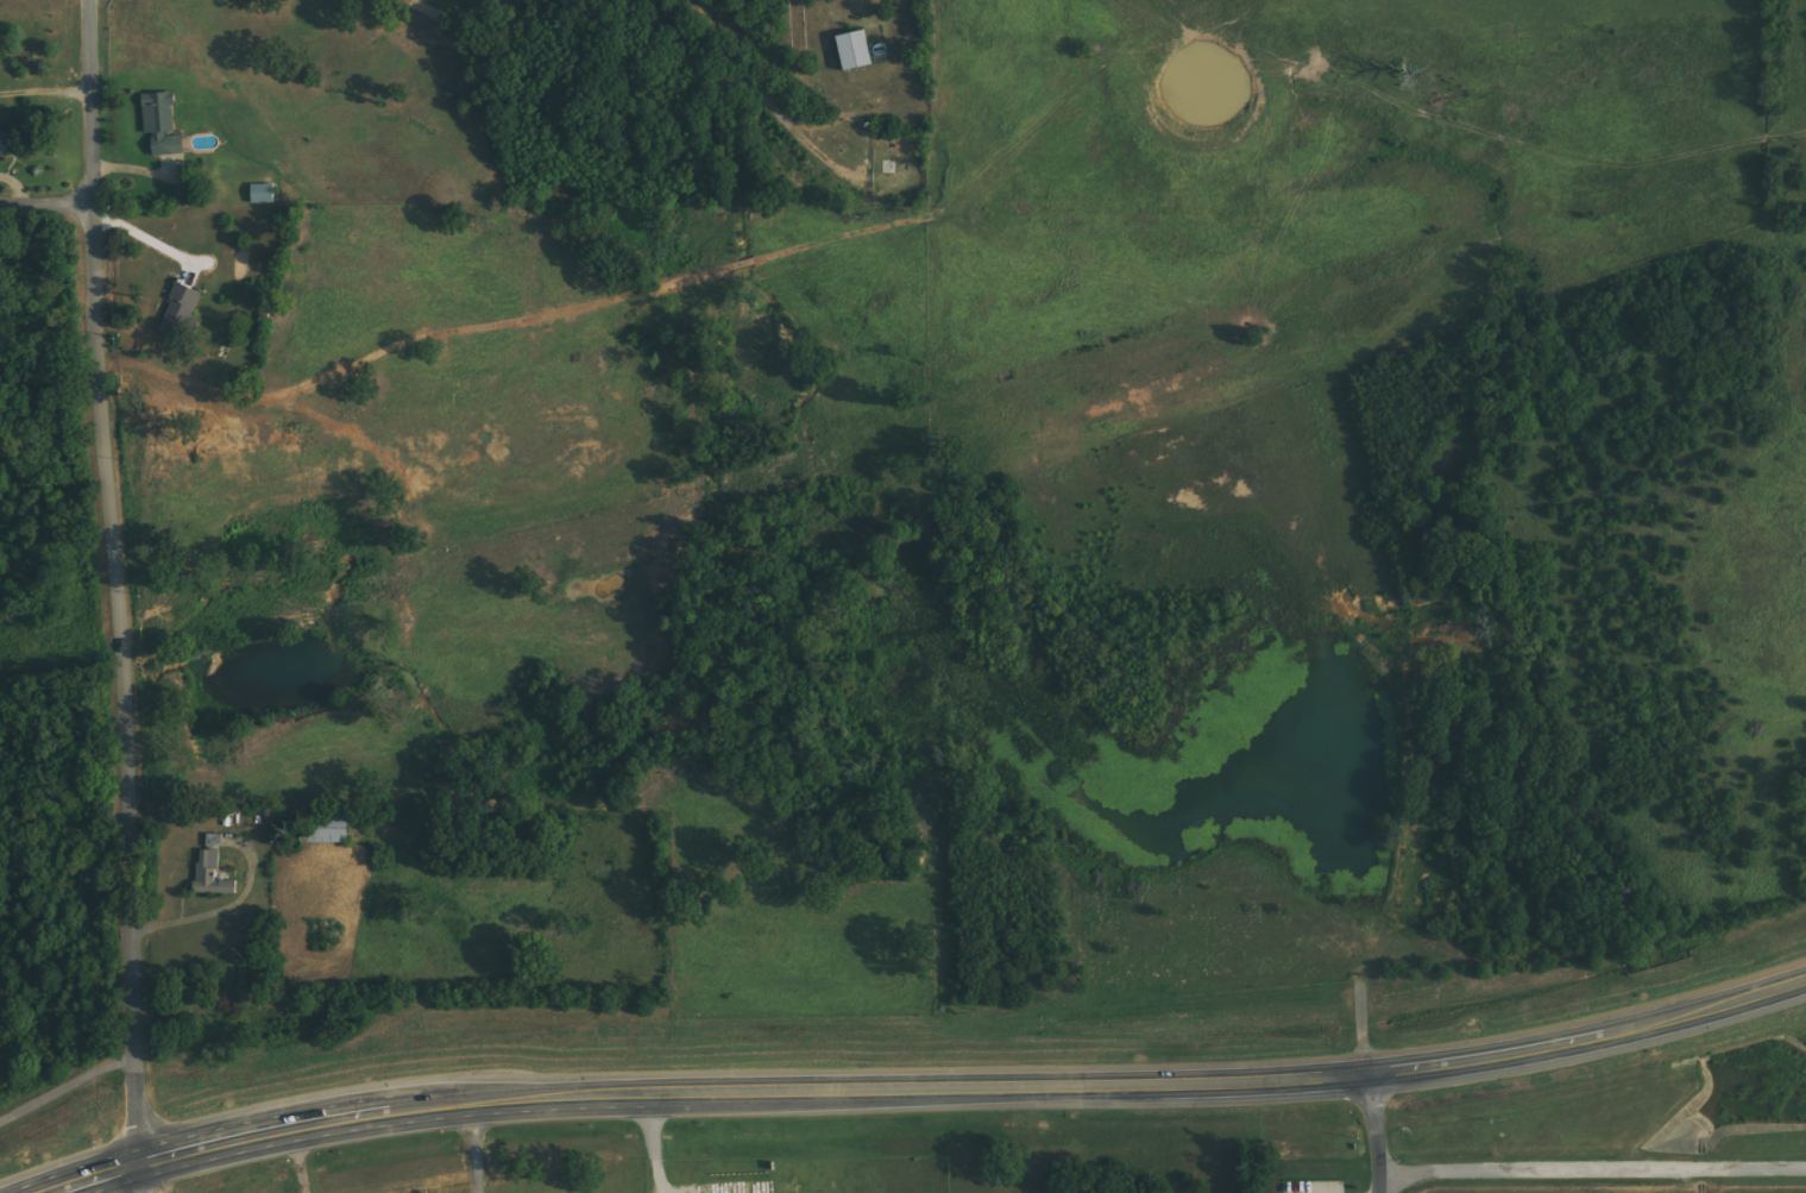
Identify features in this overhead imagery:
building: (857, 50)
road: (89, 103)
building: (164, 123)
building: (4, 142)
building: (264, 193)
road: (45, 206)
building: (181, 310)
road: (124, 698)
building: (329, 828)
building: (215, 840)
building: (213, 875)
road: (1232, 1082)
road: (536, 1097)
road: (1377, 1123)
road: (234, 1138)
road: (1584, 1170)

